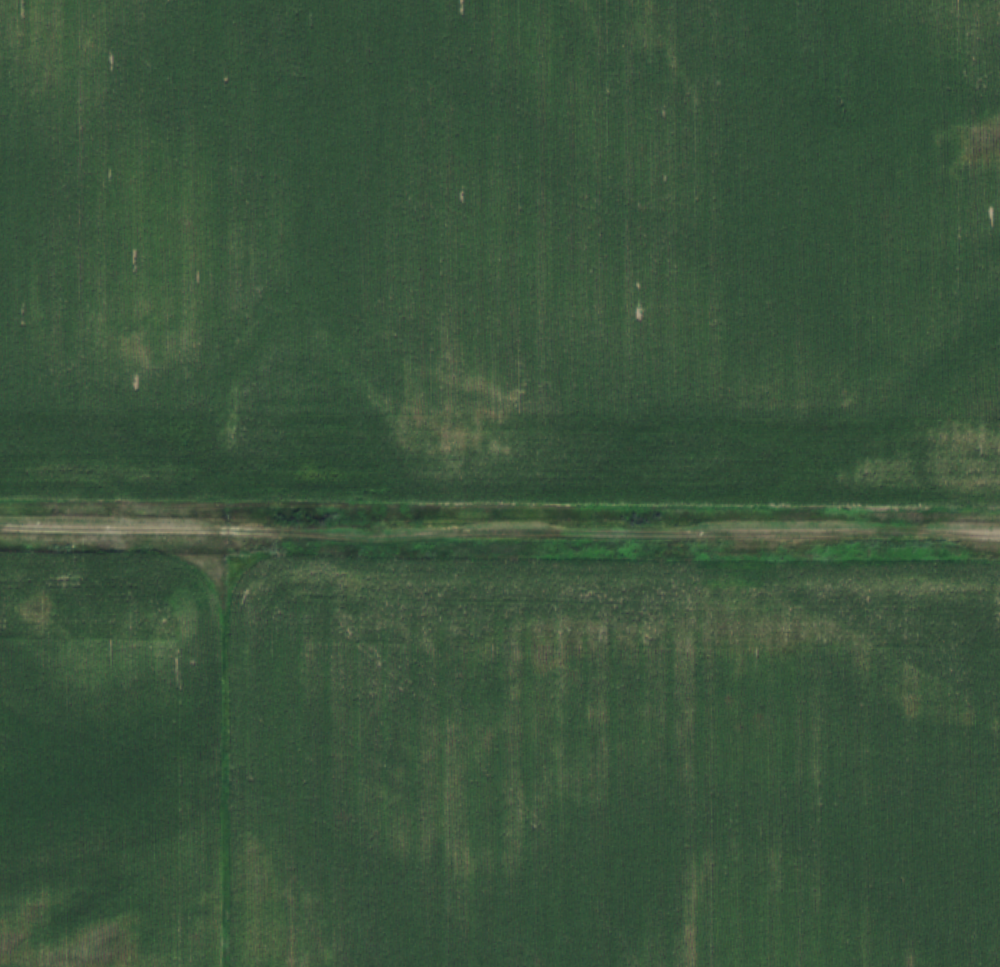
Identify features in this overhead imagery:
crop: (501, 249)
road: (500, 524)

